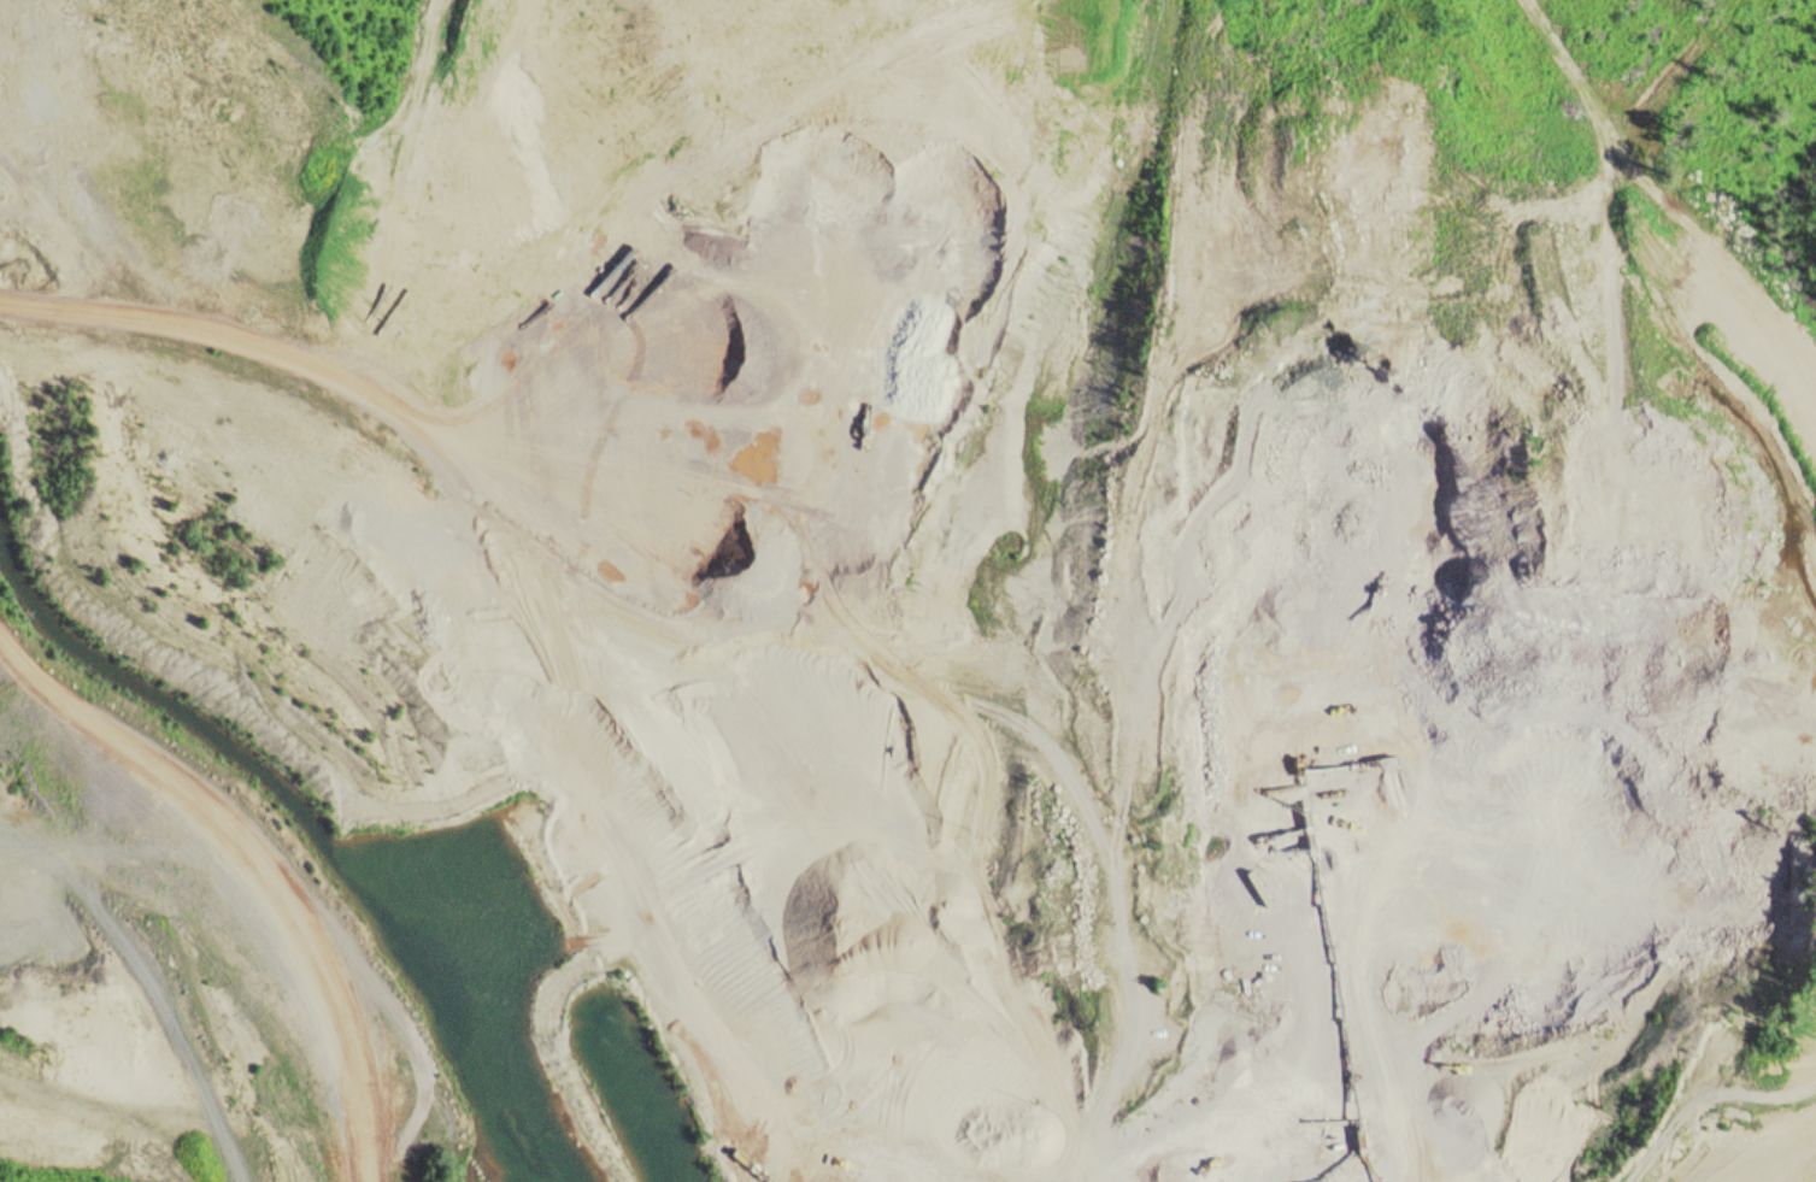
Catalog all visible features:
road: (380, 182)
road: (580, 560)
road: (102, 1022)
road: (1286, 1115)

